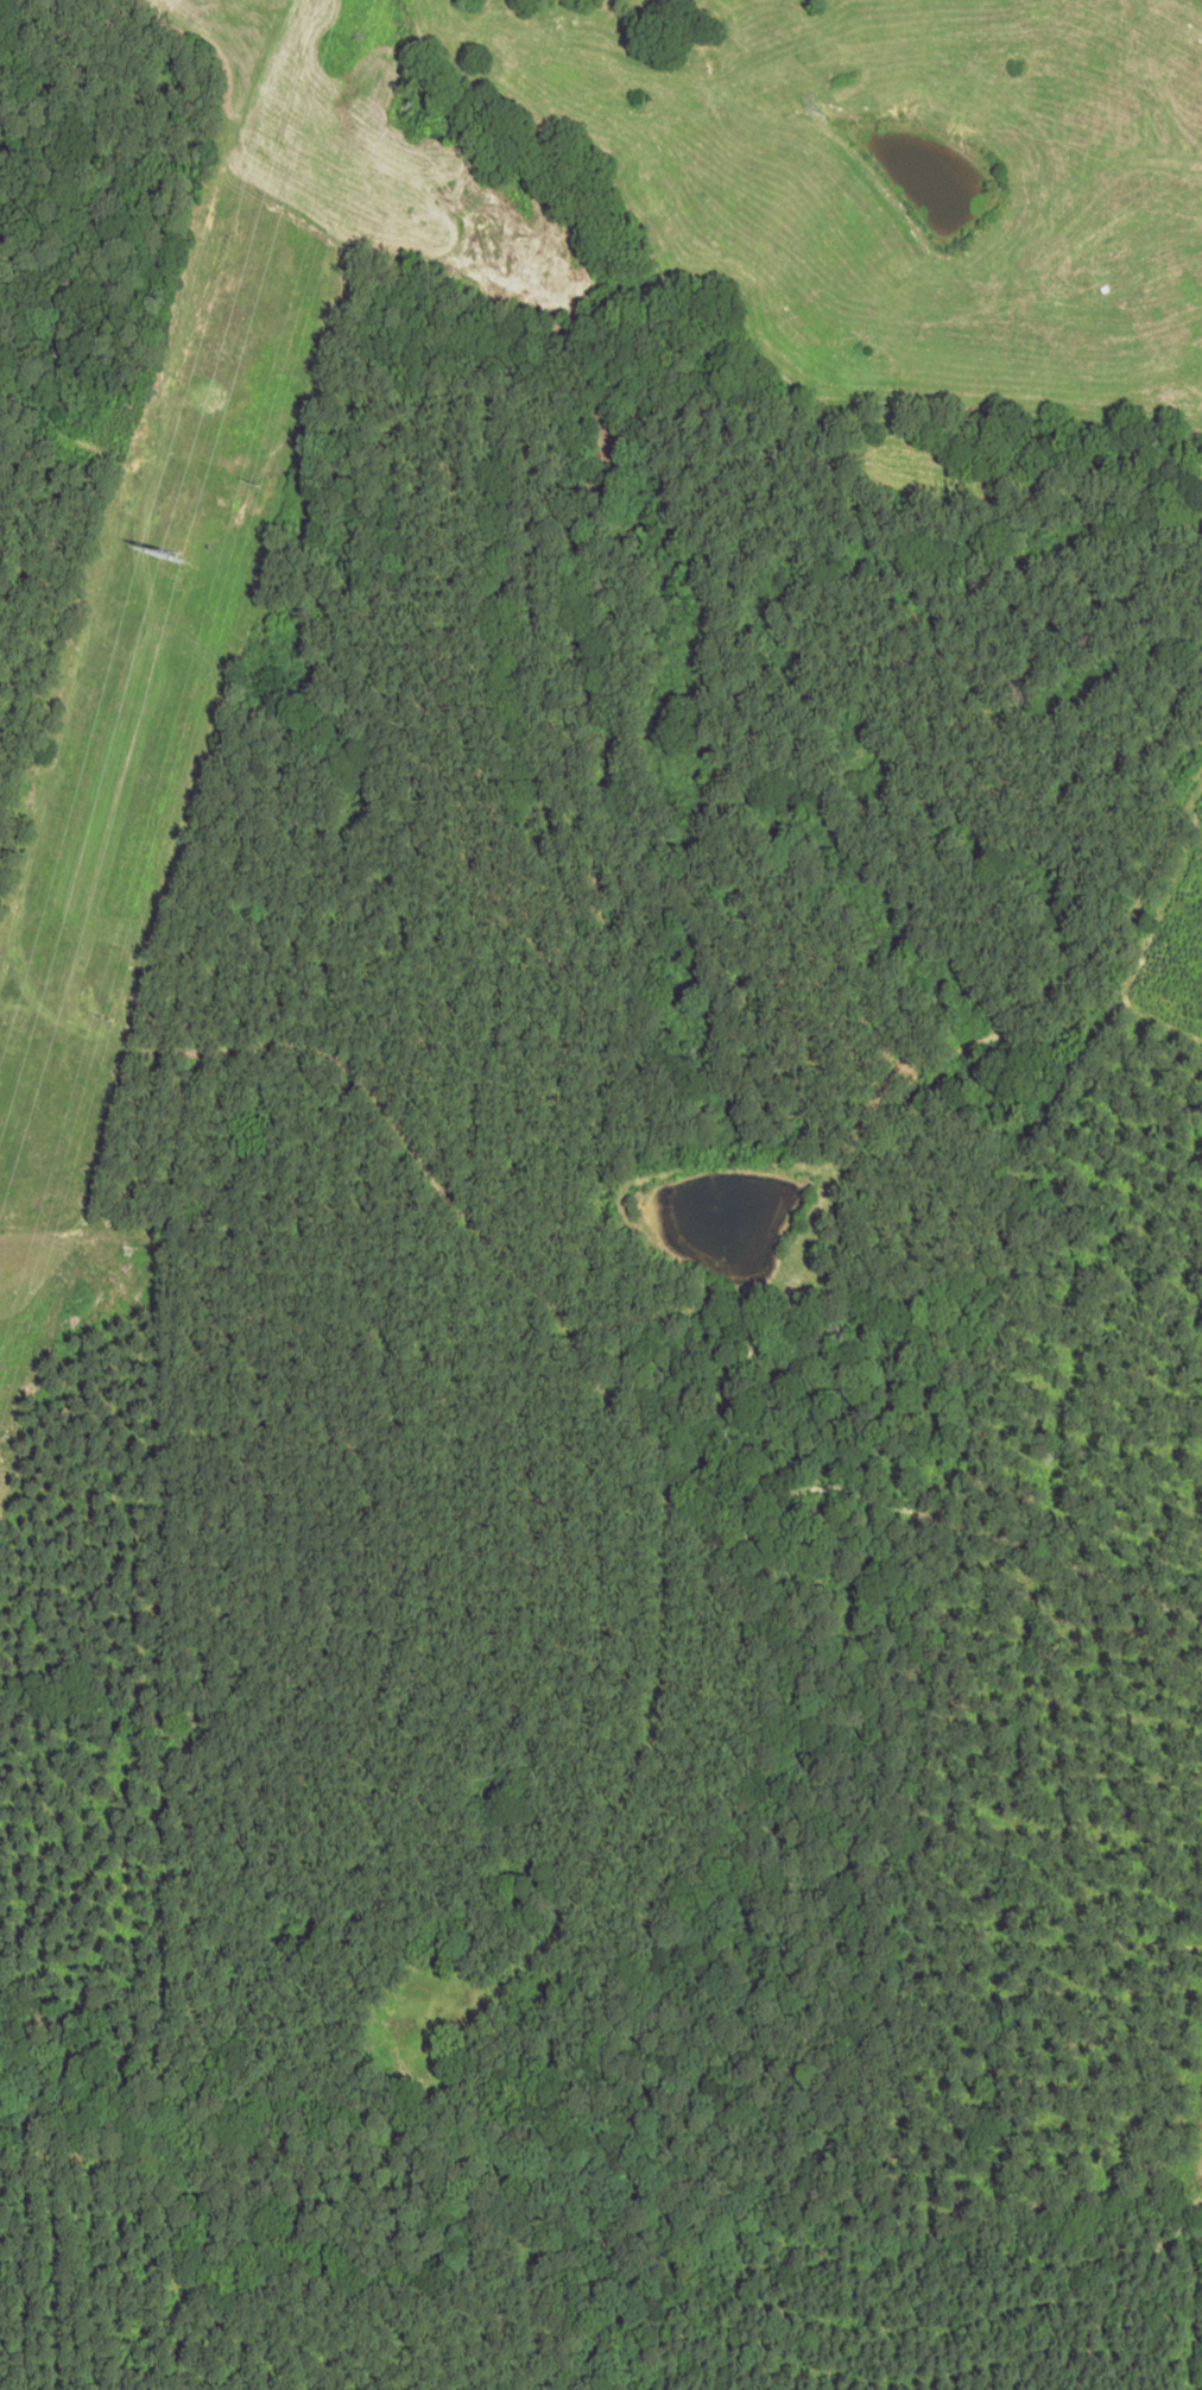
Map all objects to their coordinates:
power tower: (162, 546)

